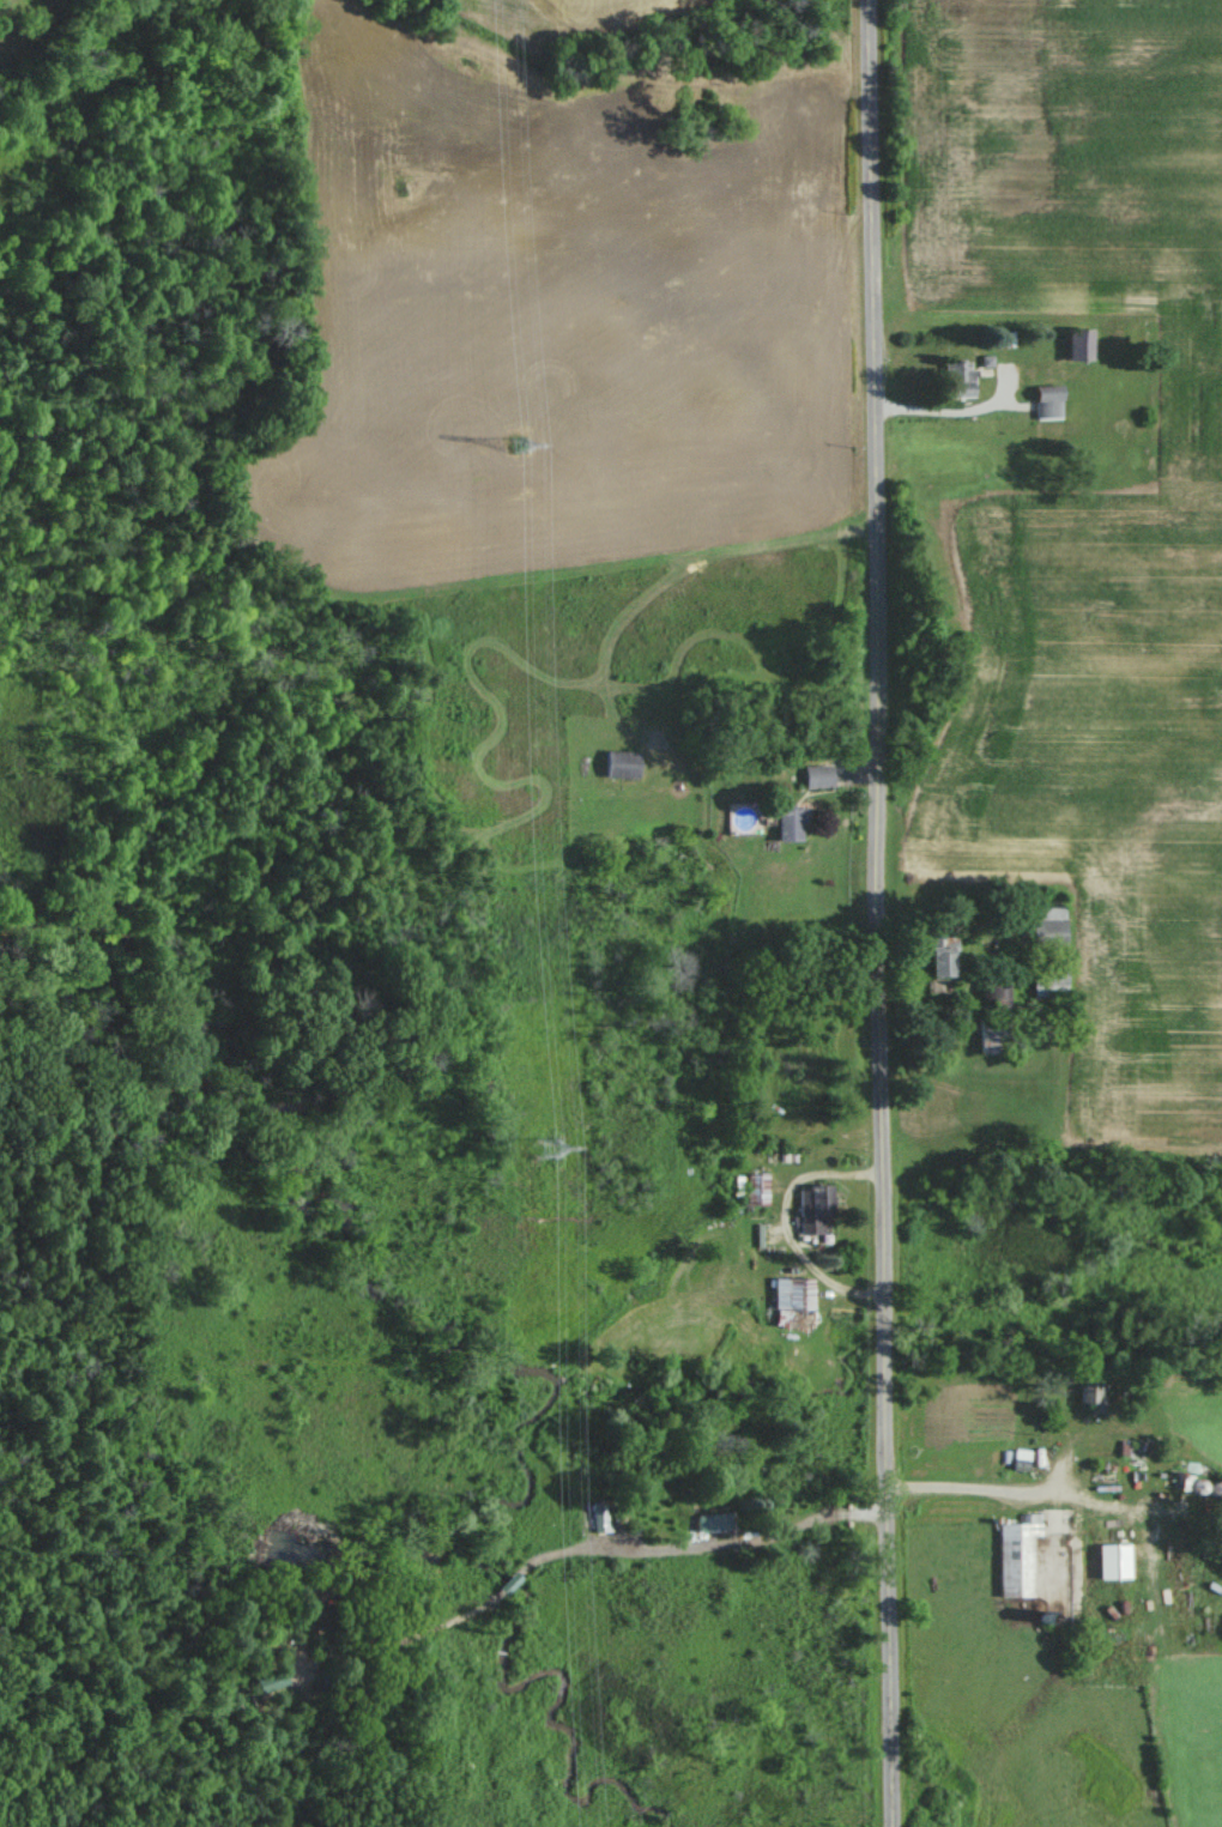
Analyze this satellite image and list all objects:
building: (960, 376)
building: (1047, 399)
road: (945, 415)
power tower: (514, 440)
building: (622, 762)
building: (794, 821)
road: (884, 913)
building: (1049, 928)
building: (944, 960)
building: (1048, 974)
building: (997, 988)
building: (992, 1034)
power tower: (544, 1145)
building: (756, 1187)
building: (813, 1205)
building: (795, 1293)
building: (1090, 1390)
building: (984, 1456)
building: (1018, 1555)

